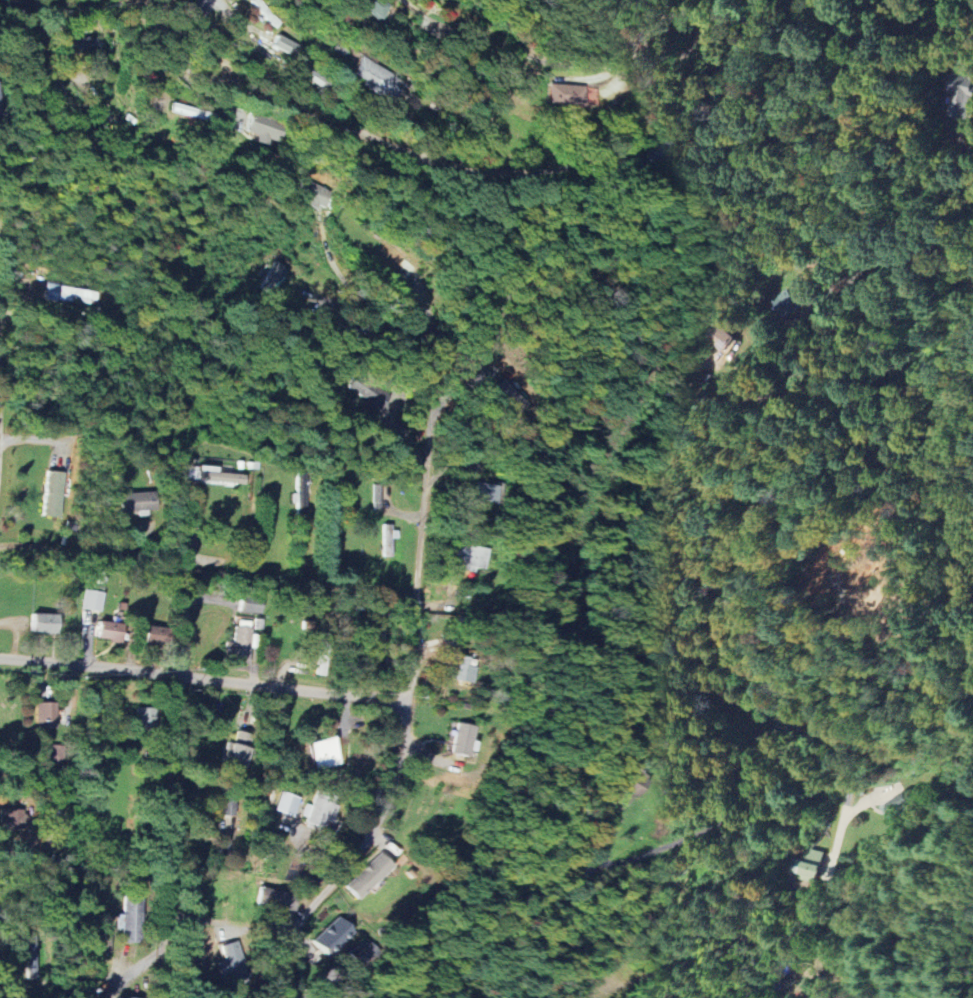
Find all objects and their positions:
building: (375, 7)
road: (658, 16)
building: (86, 45)
building: (285, 46)
road: (524, 50)
building: (381, 79)
road: (201, 91)
building: (571, 95)
building: (961, 95)
building: (1, 100)
building: (188, 111)
building: (264, 131)
building: (659, 154)
road: (443, 164)
building: (315, 195)
building: (273, 276)
building: (53, 292)
building: (73, 294)
road: (362, 301)
building: (791, 303)
road: (828, 303)
building: (722, 338)
building: (501, 394)
building: (219, 476)
building: (53, 493)
building: (378, 497)
building: (138, 502)
road: (419, 520)
building: (388, 539)
road: (72, 550)
building: (470, 557)
road: (187, 585)
building: (94, 600)
building: (252, 604)
building: (46, 623)
building: (113, 629)
building: (239, 646)
building: (464, 669)
road: (202, 676)
building: (46, 715)
building: (146, 717)
building: (462, 740)
road: (823, 747)
building: (240, 749)
building: (326, 753)
road: (170, 794)
building: (903, 803)
building: (288, 804)
building: (322, 811)
building: (56, 812)
building: (14, 819)
building: (230, 820)
road: (371, 826)
building: (806, 866)
building: (369, 875)
building: (277, 899)
building: (332, 936)
building: (31, 958)
building: (233, 960)
building: (125, 997)

